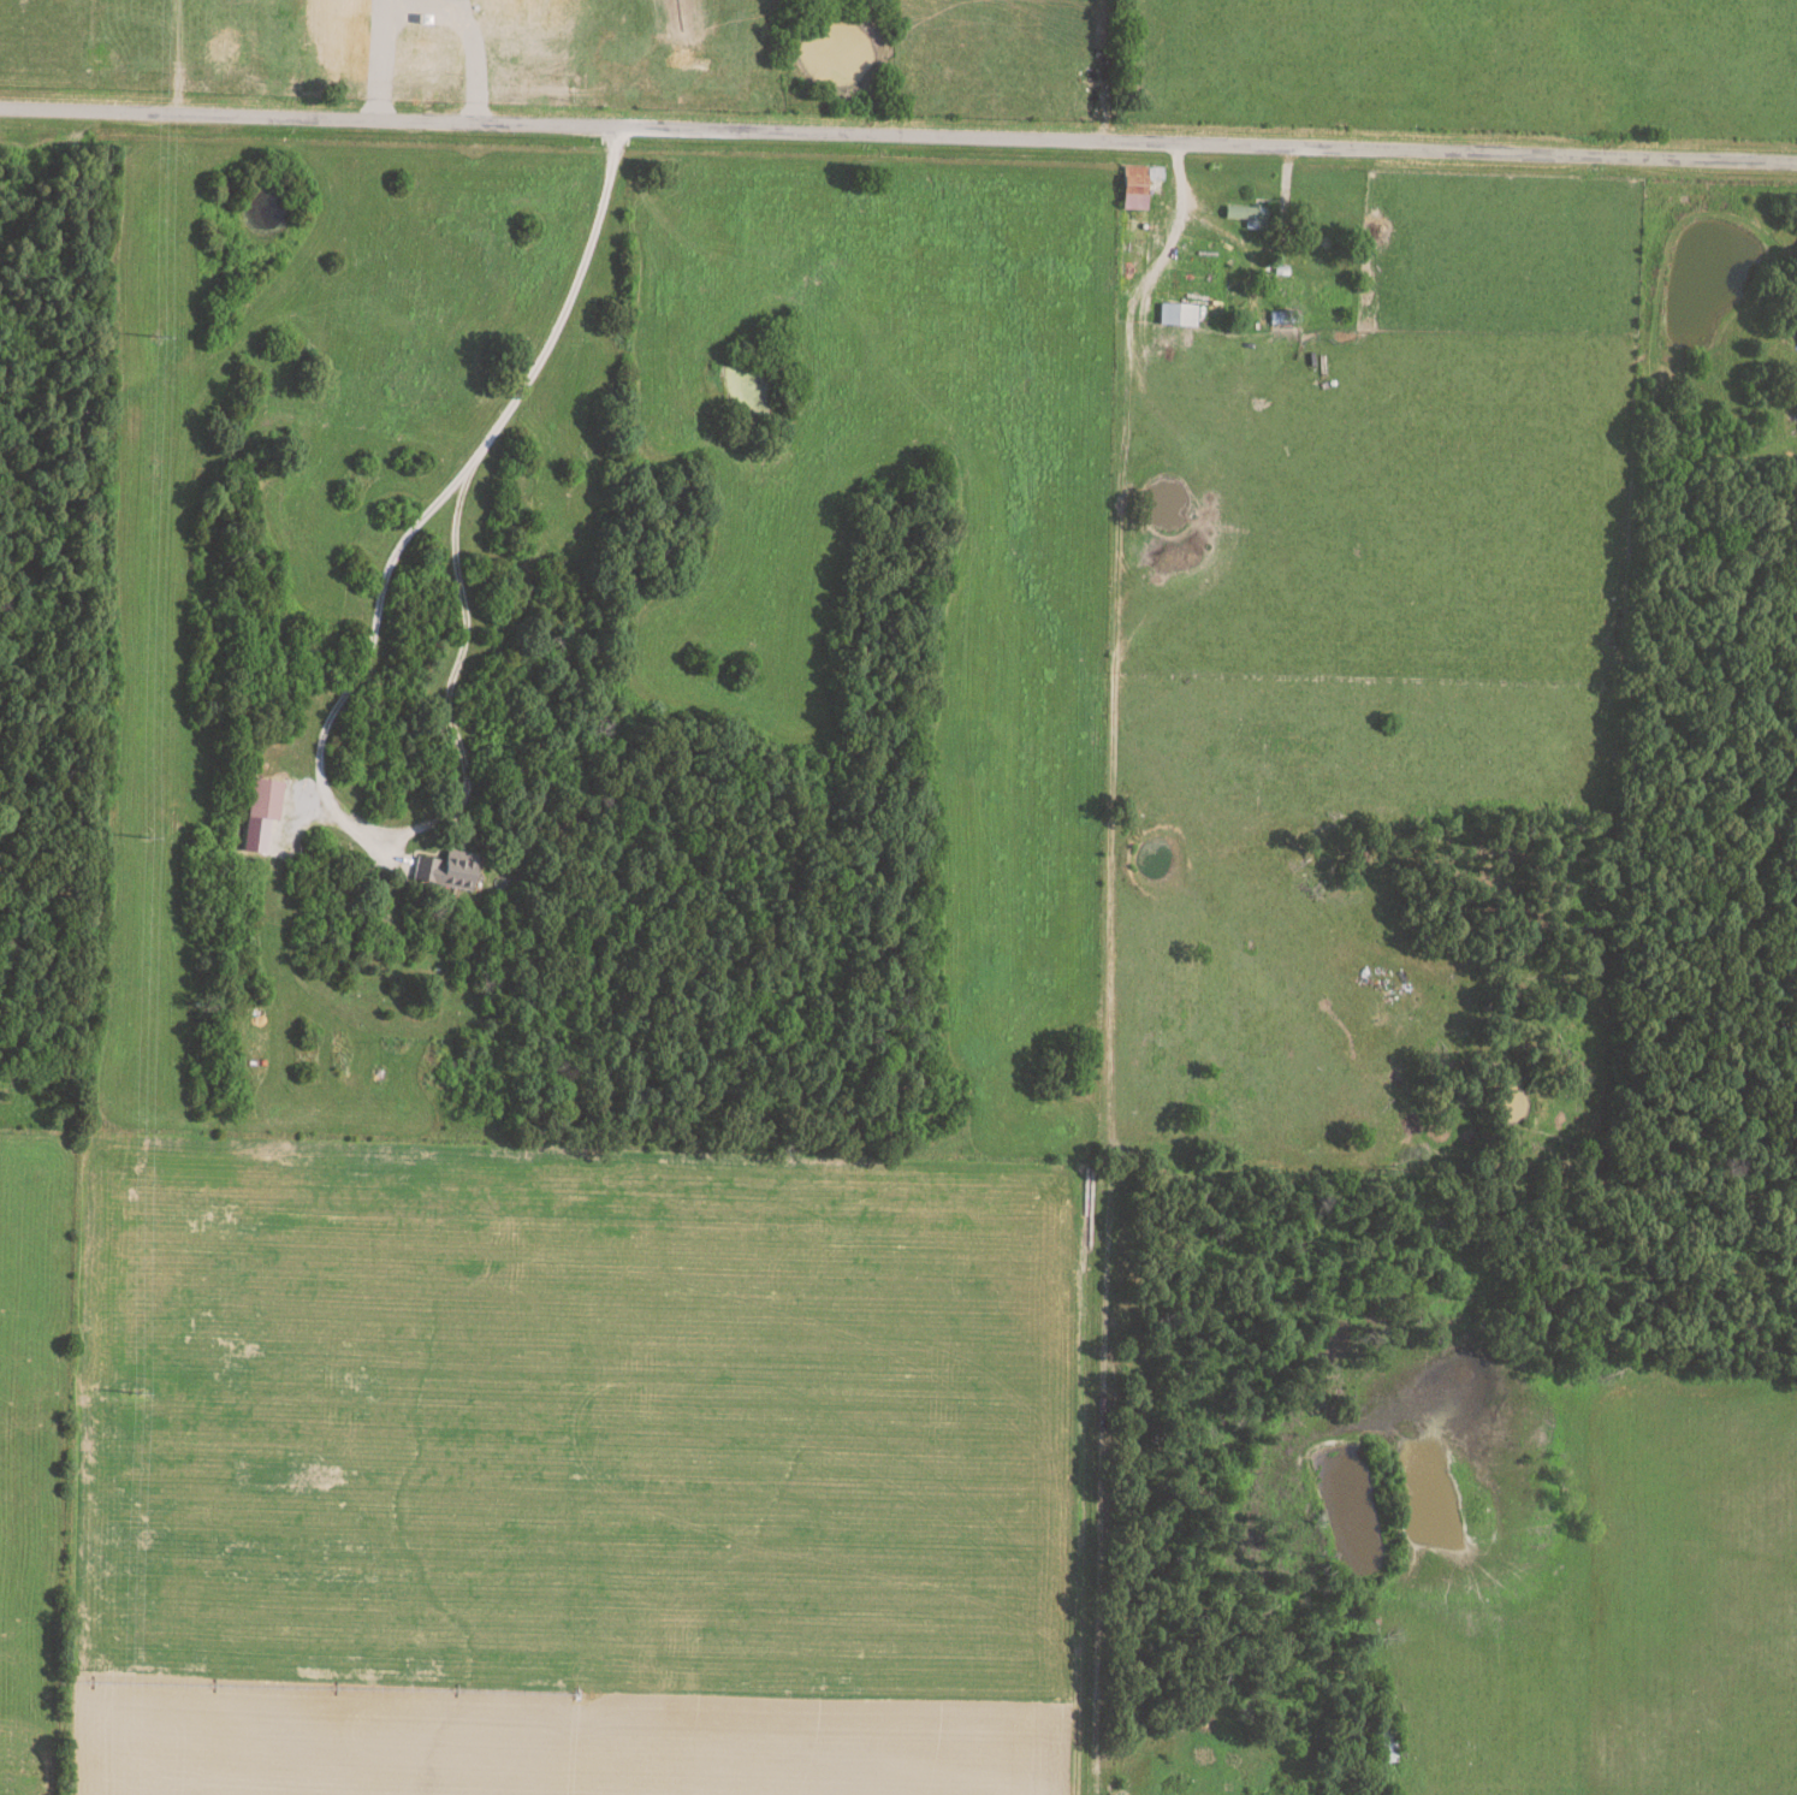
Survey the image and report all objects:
building: (502, 17)
building: (419, 57)
road: (897, 137)
building: (1138, 185)
building: (1249, 215)
building: (1178, 315)
road: (351, 688)
building: (262, 811)
building: (447, 867)

